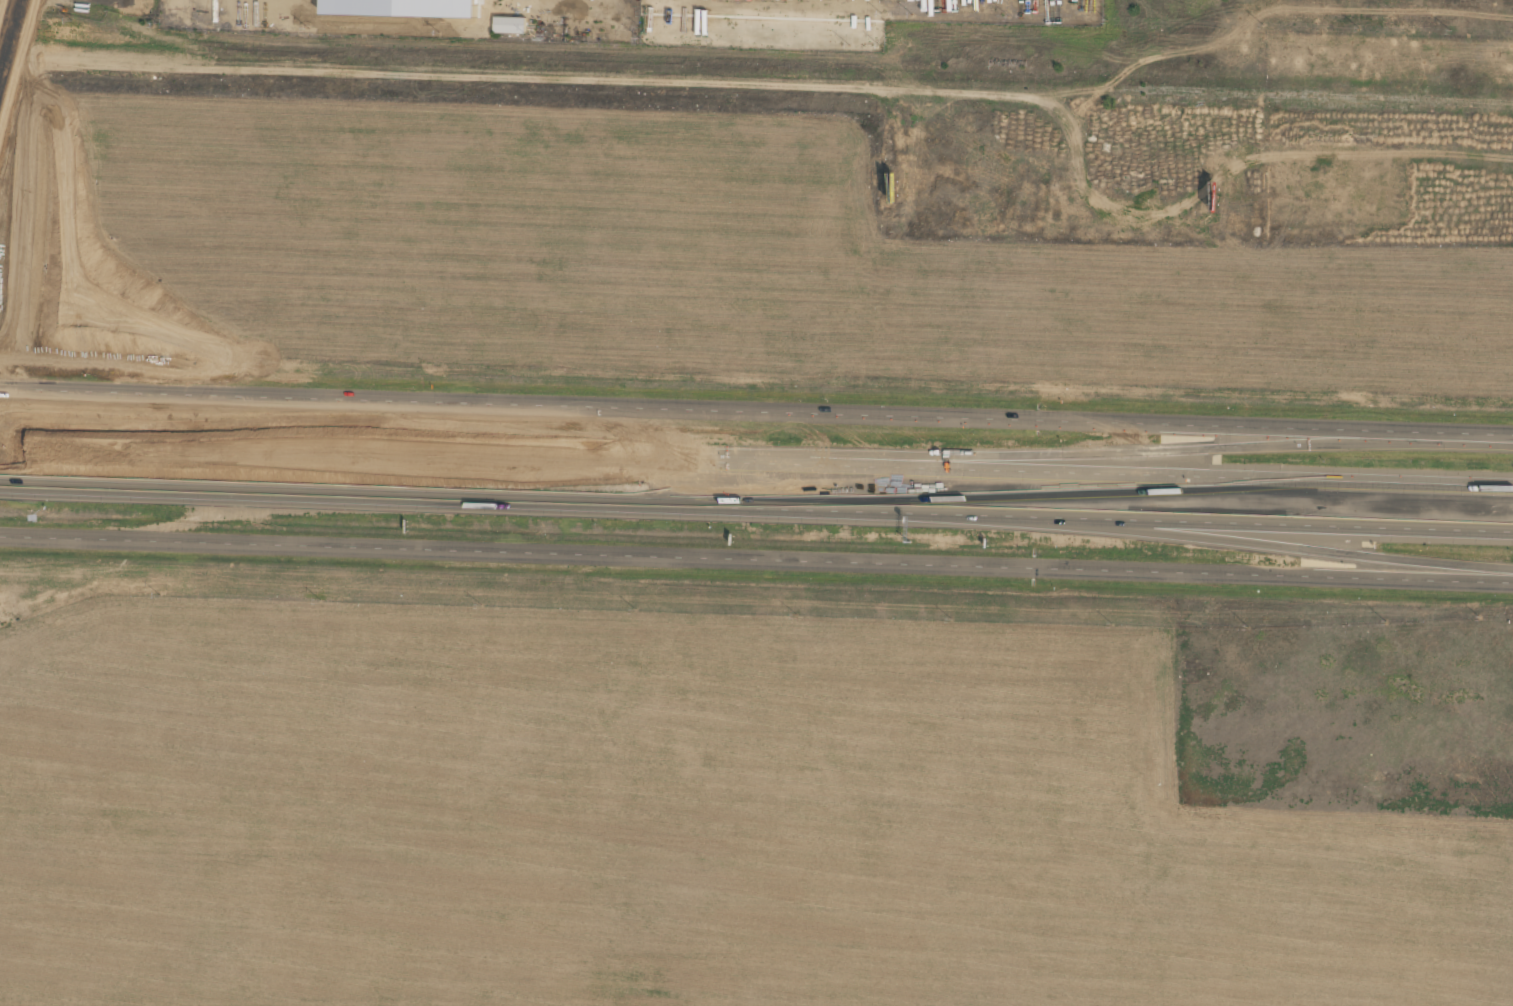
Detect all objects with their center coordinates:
building: (507, 23)
road: (756, 407)
road: (1144, 451)
road: (756, 461)
road: (756, 510)
road: (1258, 544)
road: (756, 561)

